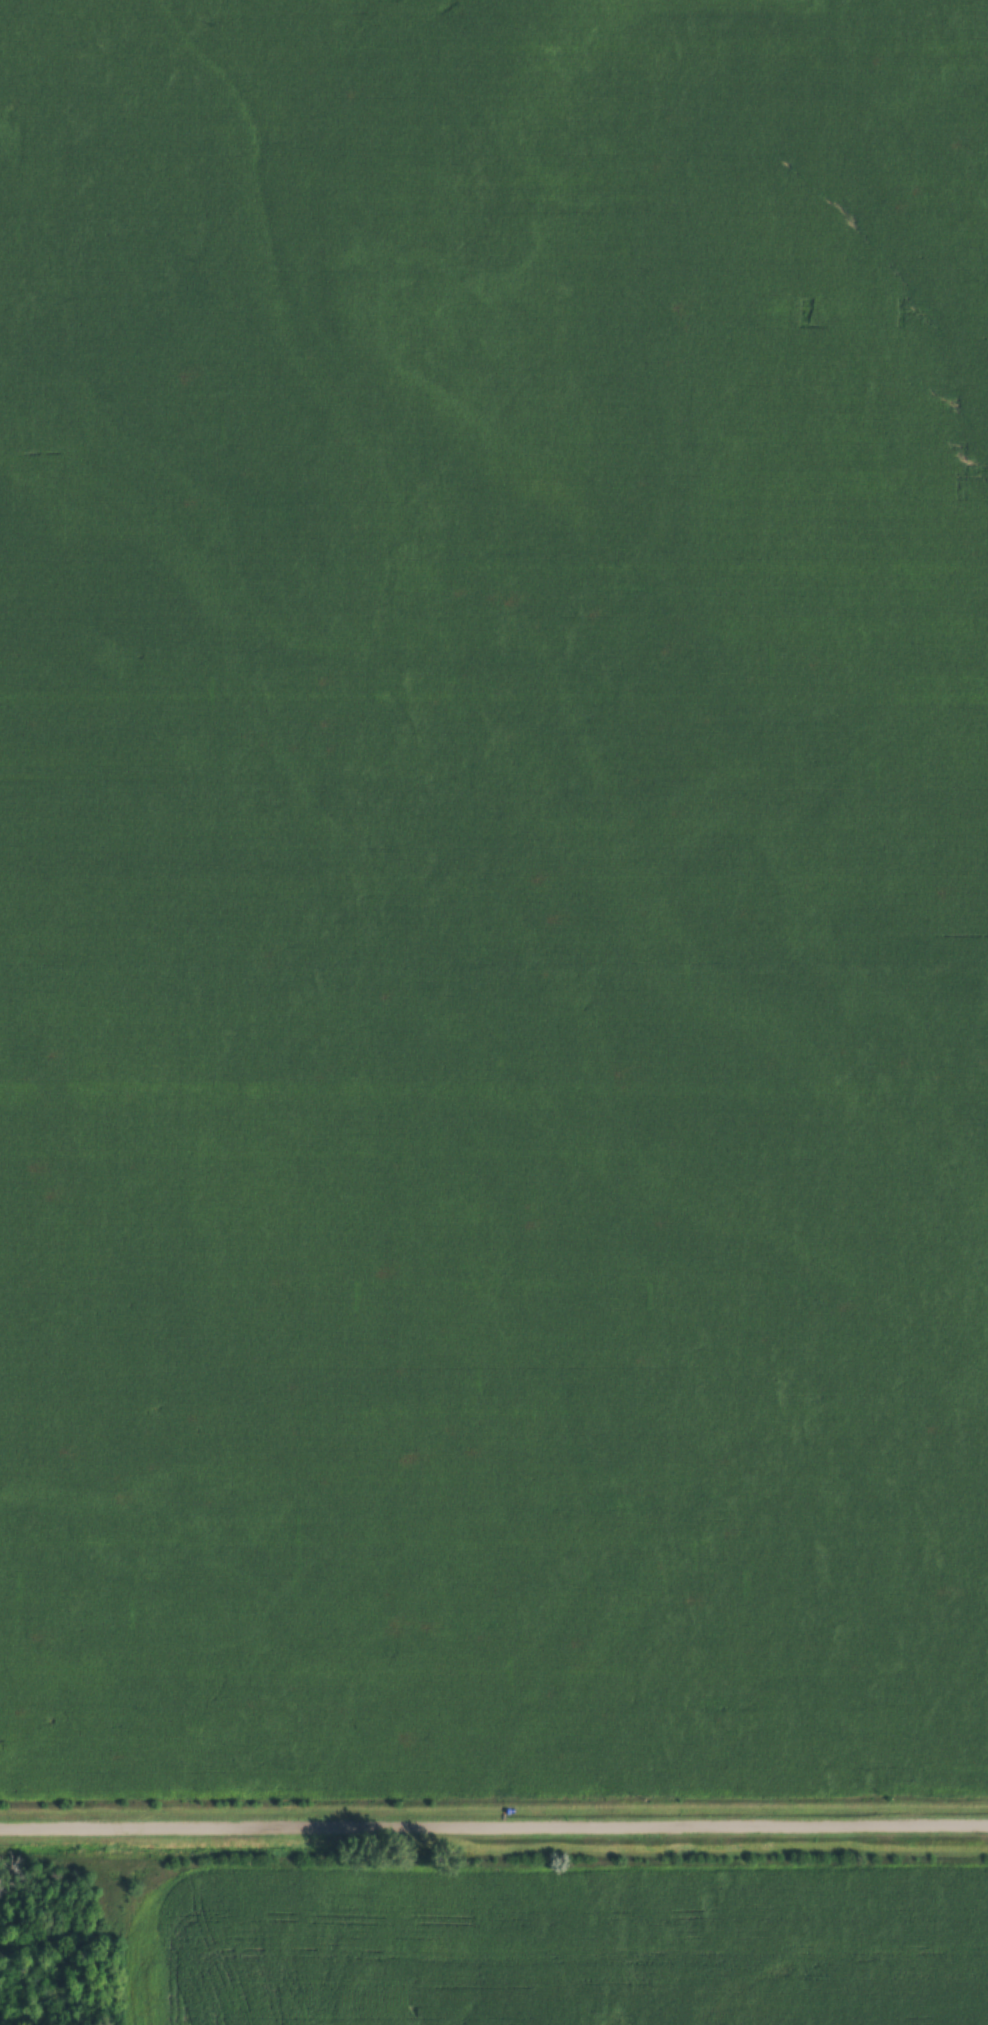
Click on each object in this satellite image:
road: (493, 1822)

